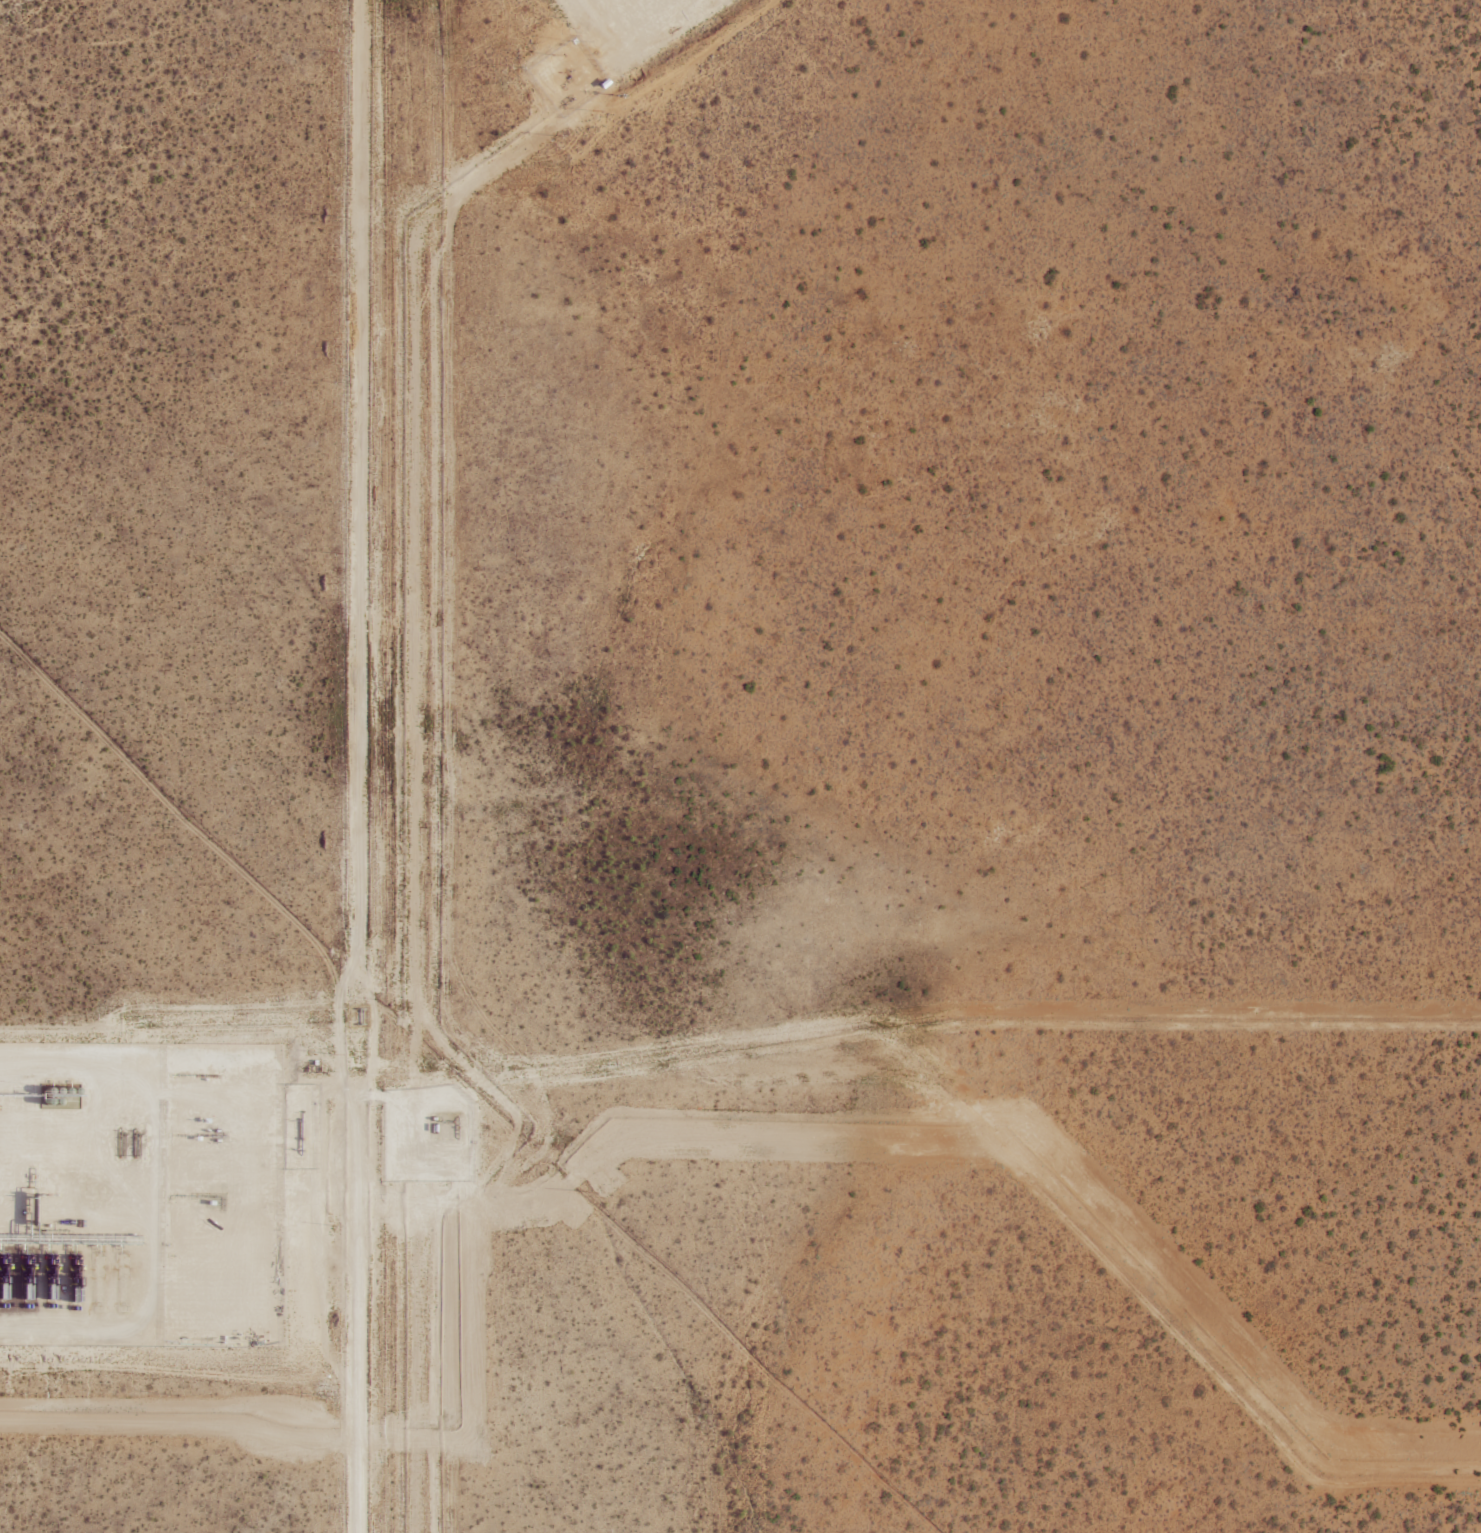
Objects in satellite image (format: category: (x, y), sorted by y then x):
road: (671, 6)
road: (126, 1189)

